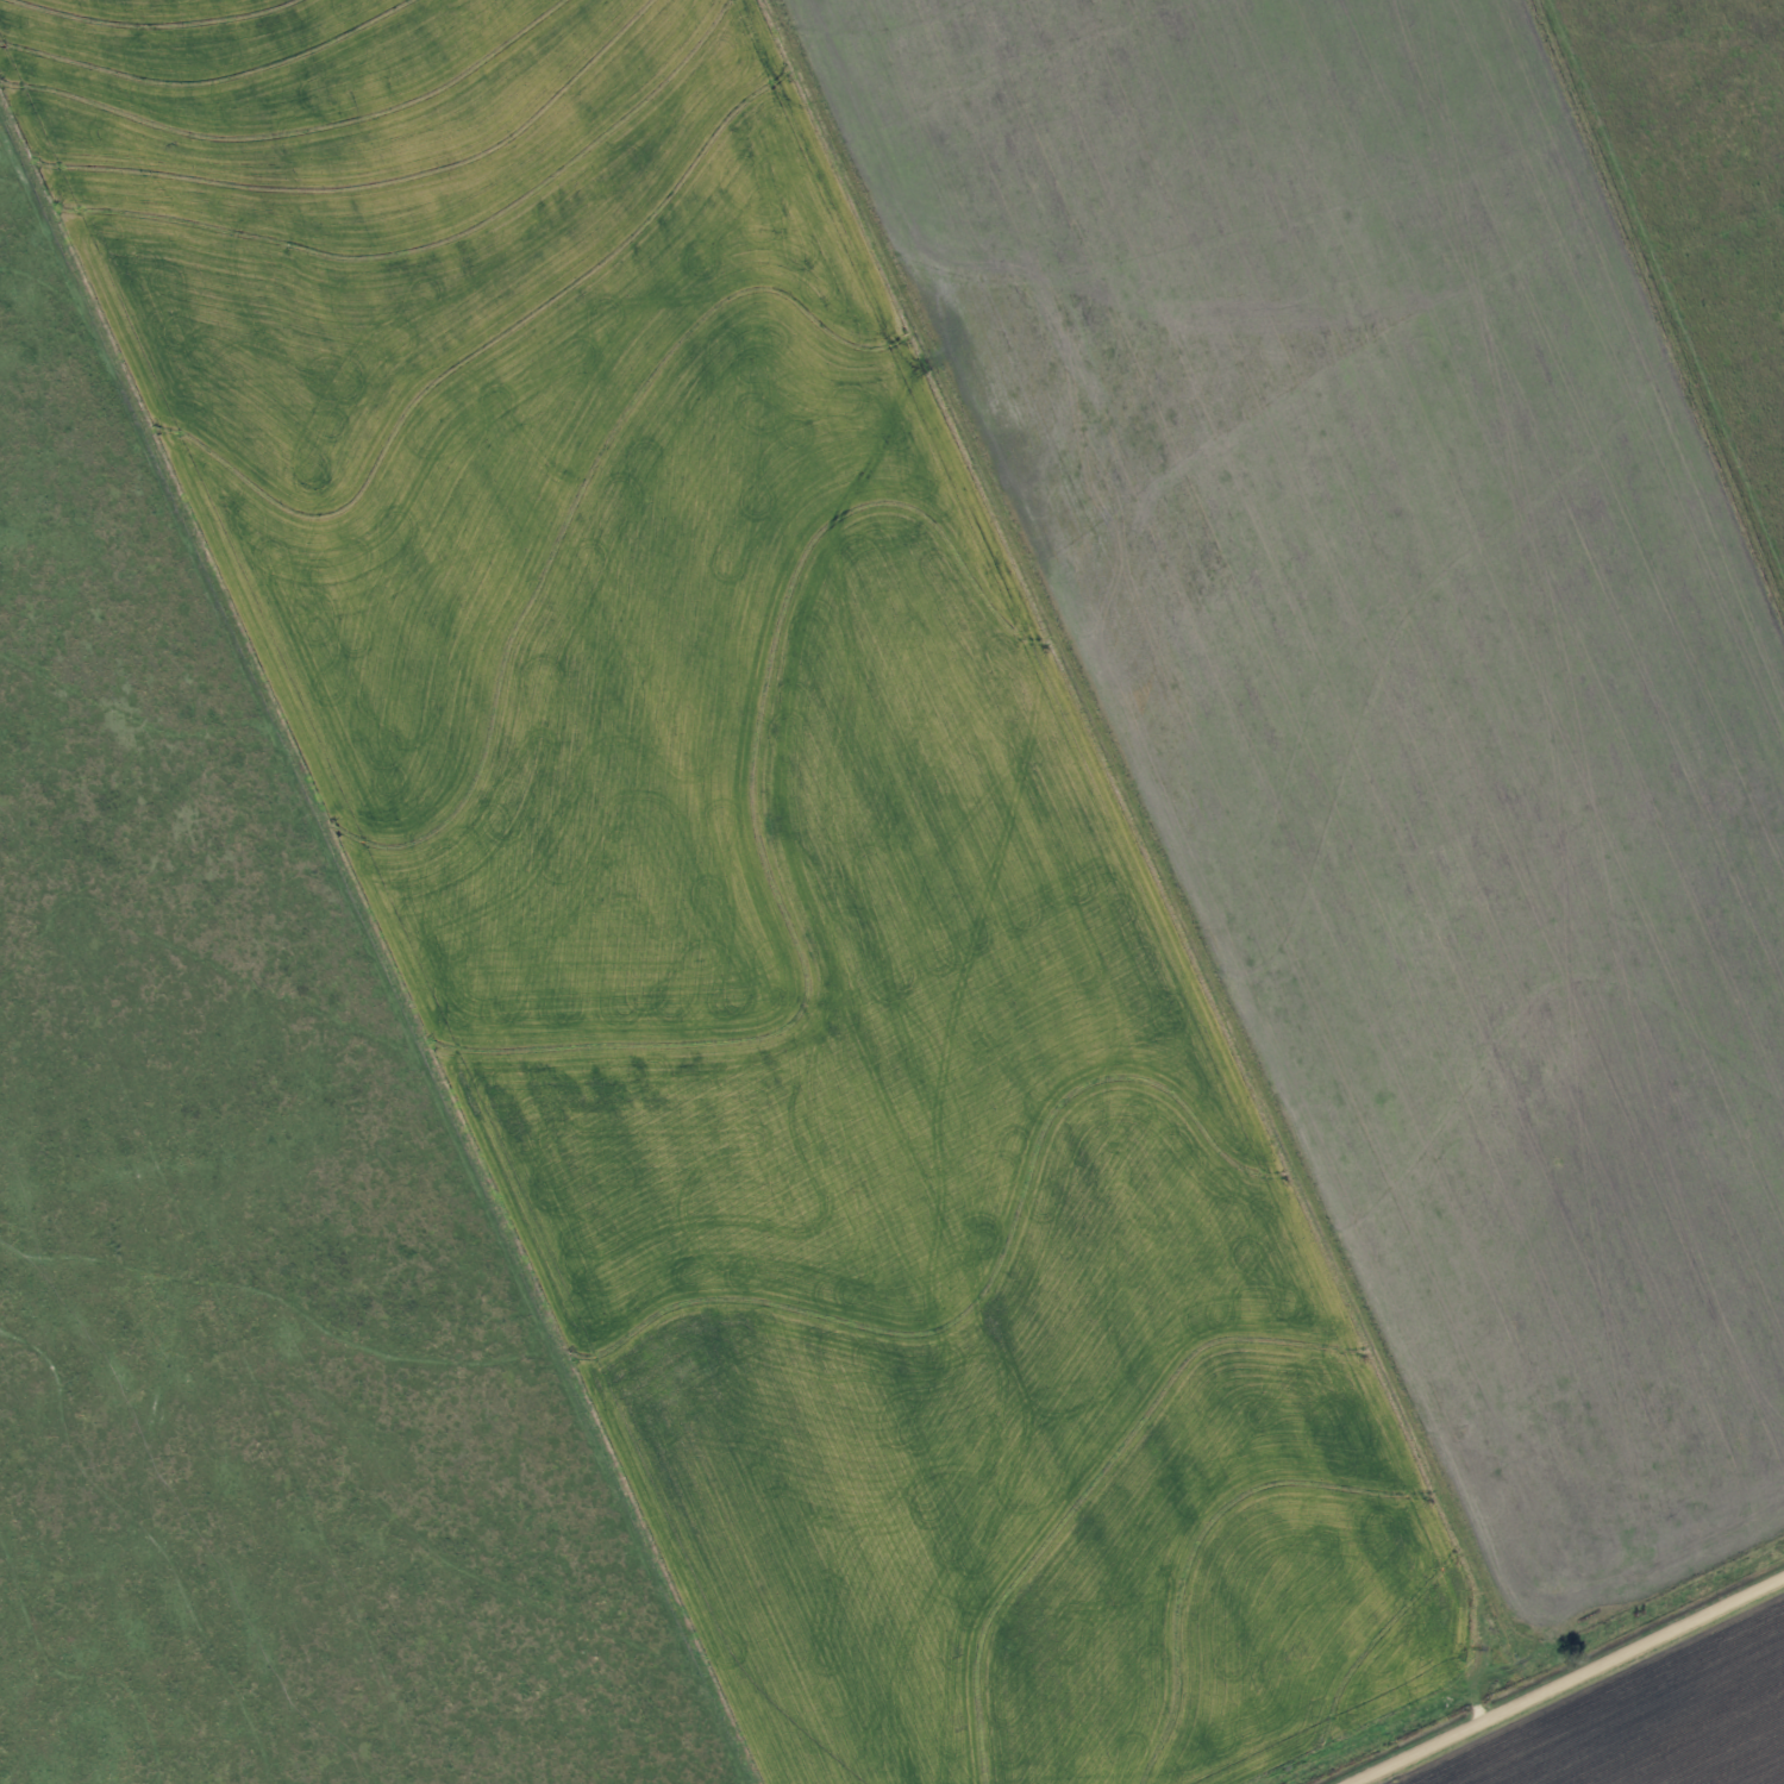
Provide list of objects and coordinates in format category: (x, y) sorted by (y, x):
road: (1559, 1678)

